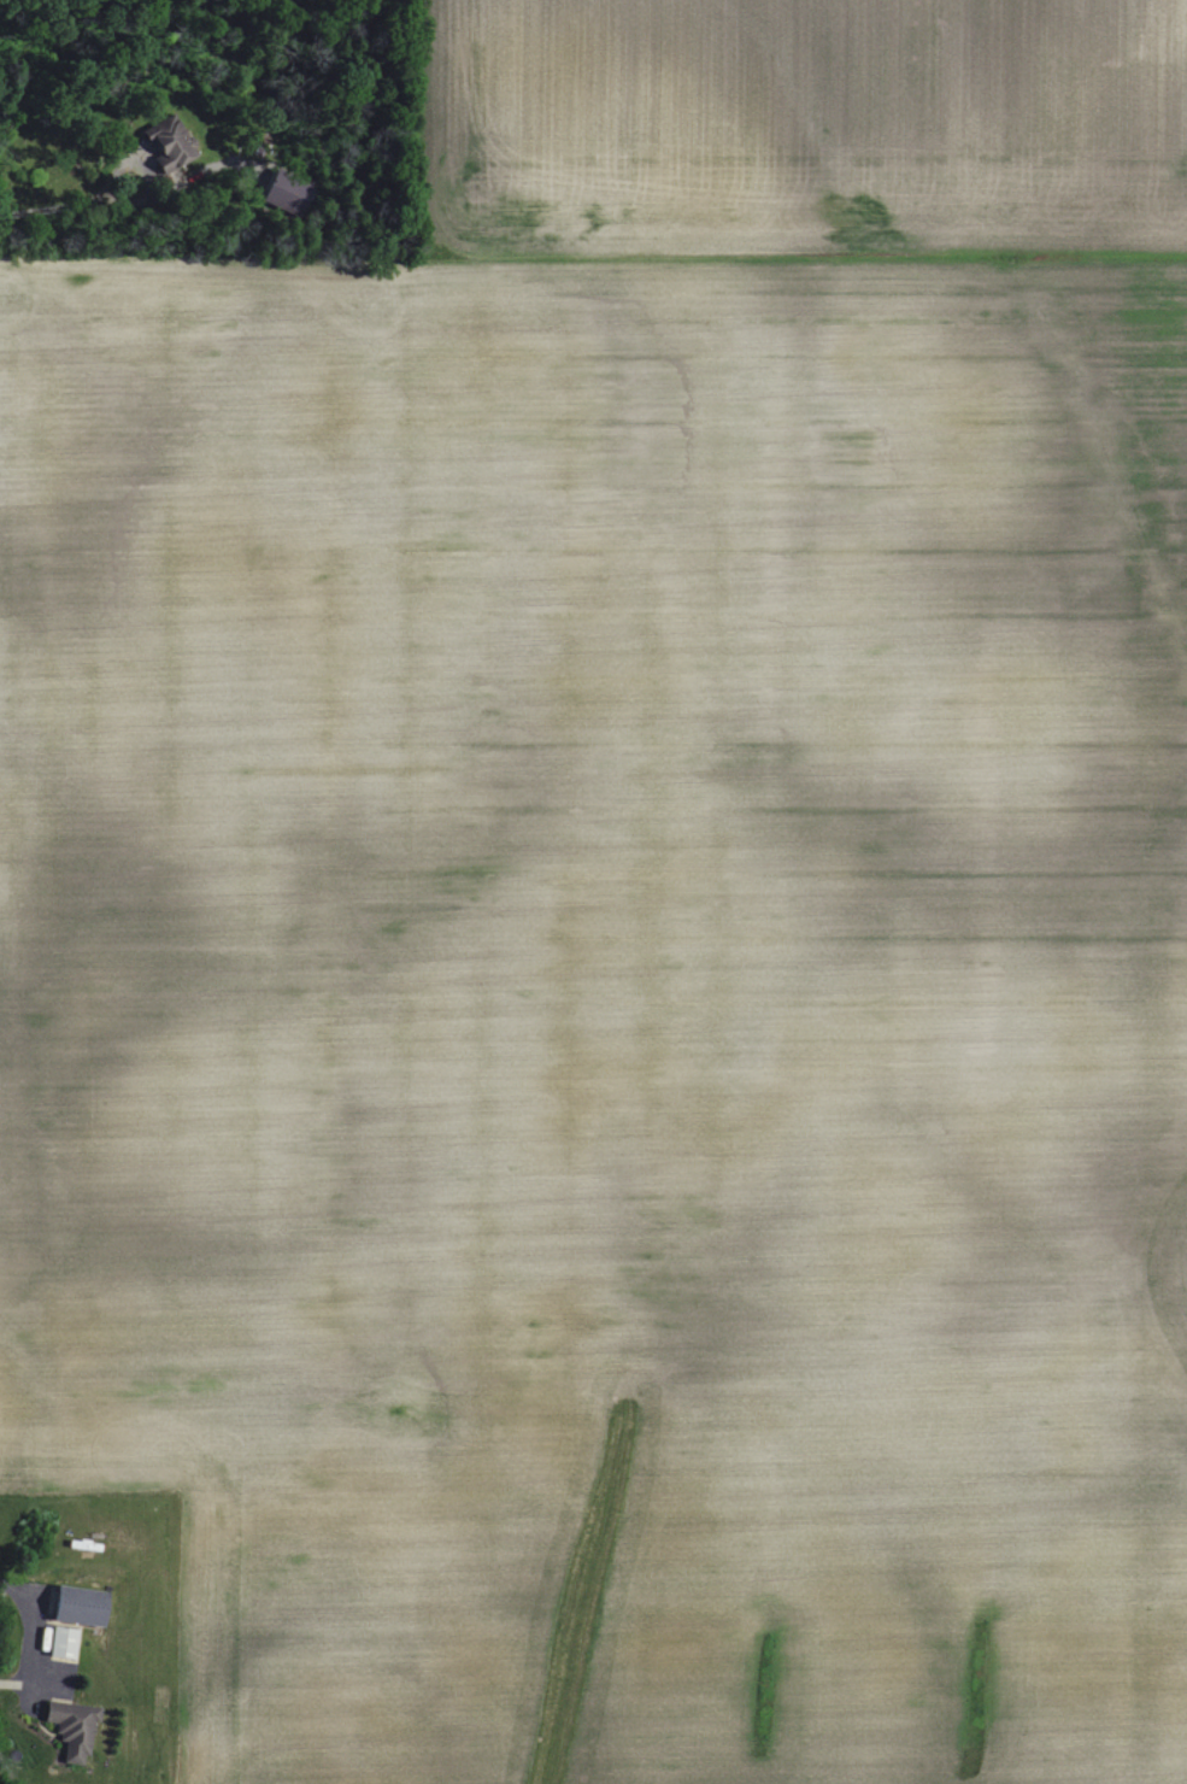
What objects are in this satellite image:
building: (171, 149)
building: (286, 193)
road: (70, 200)
building: (78, 1606)
road: (29, 1637)
building: (61, 1642)
building: (72, 1729)

